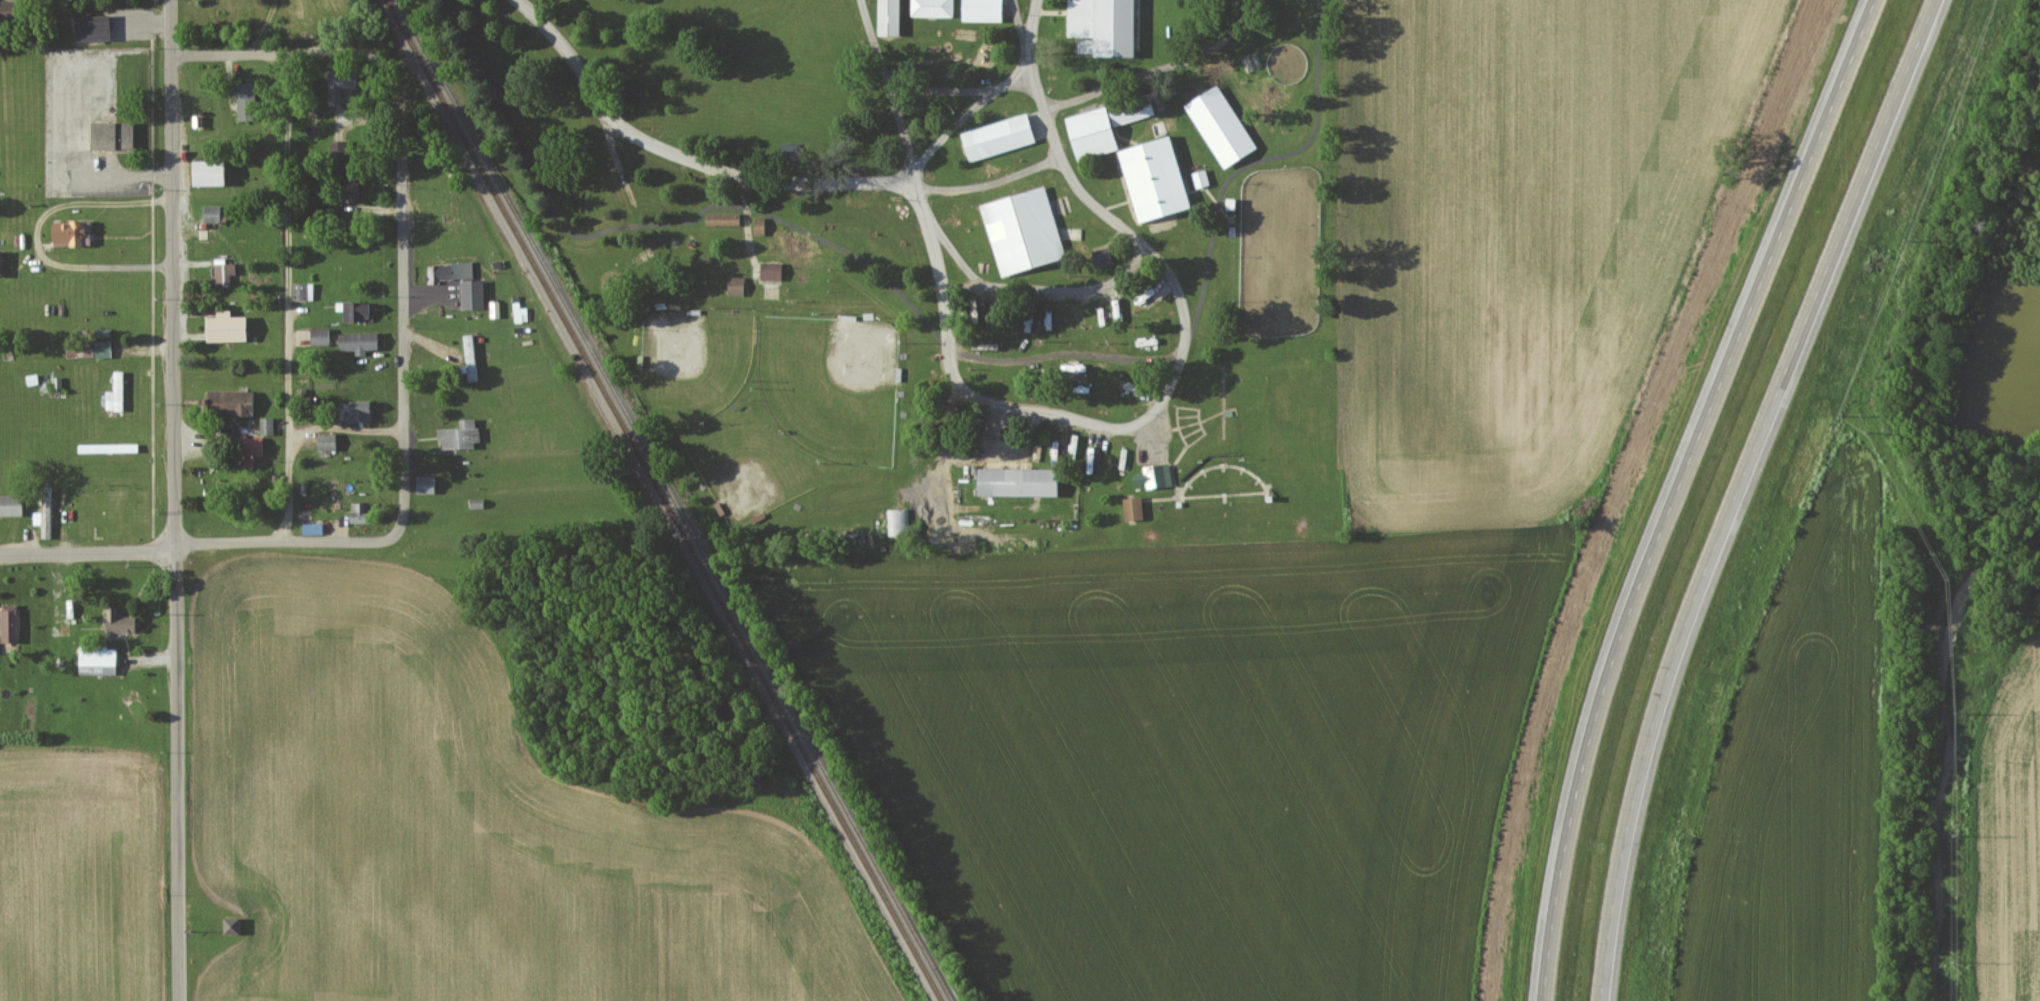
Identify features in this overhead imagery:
building: (931, 8)
building: (981, 10)
building: (887, 17)
road: (142, 22)
road: (1033, 23)
building: (1102, 25)
building: (90, 28)
road: (261, 31)
road: (1029, 57)
road: (292, 60)
building: (1251, 63)
road: (1316, 64)
road: (1146, 80)
building: (338, 87)
road: (945, 90)
building: (1133, 109)
road: (966, 120)
building: (1222, 127)
building: (1093, 133)
building: (110, 135)
building: (1000, 138)
road: (1048, 142)
building: (206, 173)
road: (751, 177)
building: (1200, 178)
building: (1156, 180)
building: (349, 190)
building: (210, 212)
building: (721, 219)
road: (748, 226)
building: (758, 226)
building: (1024, 232)
building: (65, 233)
road: (36, 236)
building: (1101, 257)
building: (452, 271)
building: (770, 271)
building: (223, 273)
building: (735, 285)
building: (301, 291)
road: (1029, 292)
building: (471, 294)
road: (285, 307)
building: (495, 309)
building: (1117, 310)
building: (354, 311)
building: (1076, 313)
building: (521, 315)
building: (1088, 316)
building: (224, 328)
building: (1083, 335)
road: (399, 336)
building: (318, 337)
building: (357, 342)
building: (101, 349)
building: (79, 352)
road: (1064, 352)
building: (470, 357)
building: (1070, 365)
park: (831, 384)
building: (115, 393)
building: (227, 402)
road: (1013, 407)
building: (356, 412)
building: (266, 425)
building: (461, 436)
building: (325, 442)
building: (245, 450)
building: (1156, 477)
building: (1019, 483)
building: (427, 485)
road: (1678, 491)
road: (1737, 491)
road: (172, 500)
railway: (665, 500)
railway: (674, 500)
building: (10, 504)
building: (477, 504)
building: (1134, 509)
building: (46, 512)
building: (358, 513)
building: (898, 522)
building: (311, 528)
road: (86, 553)
road: (270, 555)
building: (118, 621)
building: (9, 622)
building: (96, 660)
building: (231, 925)

